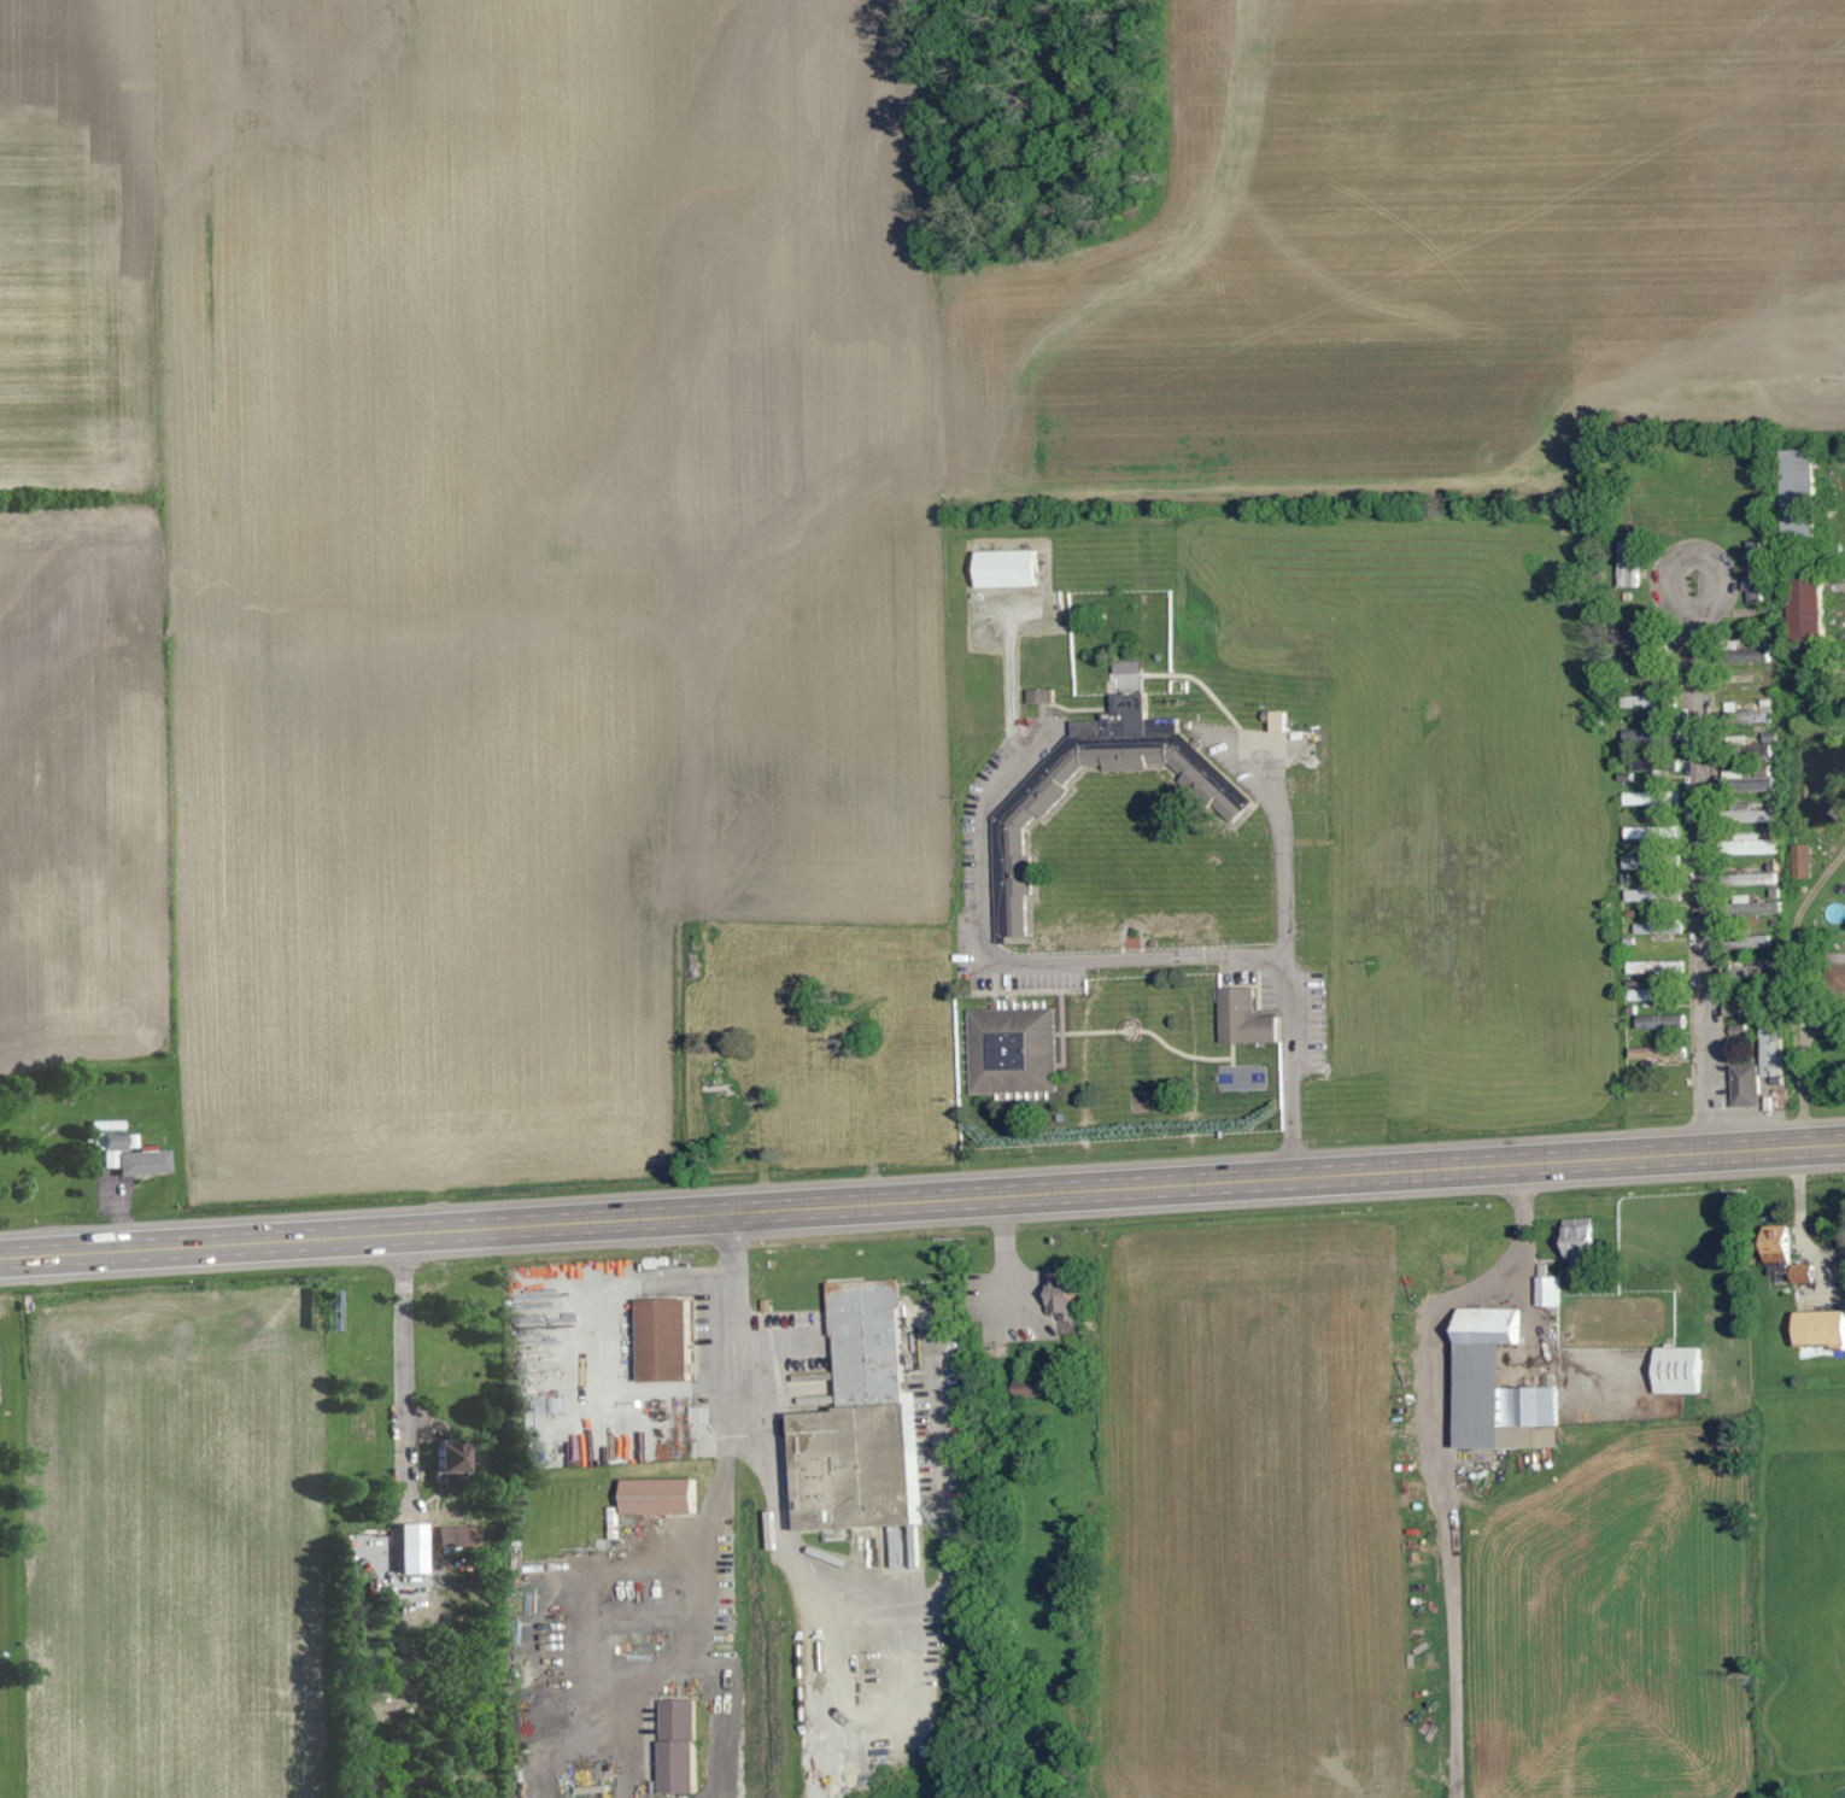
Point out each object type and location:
building: (1793, 492)
road: (1708, 562)
building: (1627, 563)
building: (1002, 568)
building: (1752, 573)
building: (1802, 610)
building: (1746, 655)
building: (1038, 696)
building: (1639, 702)
building: (1752, 716)
building: (1273, 720)
building: (1645, 766)
building: (1750, 784)
building: (1641, 798)
building: (1750, 816)
building: (1650, 832)
building: (1011, 837)
building: (1751, 844)
building: (1800, 861)
building: (1635, 862)
building: (1747, 879)
road: (1701, 882)
building: (1635, 895)
building: (1757, 907)
building: (1656, 929)
road: (1279, 932)
road: (1793, 936)
building: (1749, 942)
road: (1002, 956)
building: (1838, 966)
building: (1653, 967)
building: (1749, 971)
building: (1638, 995)
building: (1241, 1018)
building: (1654, 1020)
building: (1768, 1049)
building: (1011, 1052)
building: (1654, 1053)
road: (1806, 1065)
building: (1744, 1085)
building: (122, 1150)
road: (921, 1202)
building: (1773, 1247)
building: (1798, 1273)
building: (1545, 1292)
road: (1457, 1294)
building: (1058, 1298)
building: (1817, 1329)
building: (660, 1340)
road: (605, 1341)
road: (538, 1352)
building: (1673, 1370)
road: (404, 1382)
building: (1492, 1387)
road: (733, 1412)
building: (861, 1419)
building: (440, 1458)
building: (656, 1497)
building: (452, 1536)
road: (781, 1540)
building: (405, 1560)
road: (632, 1685)
building: (675, 1747)

